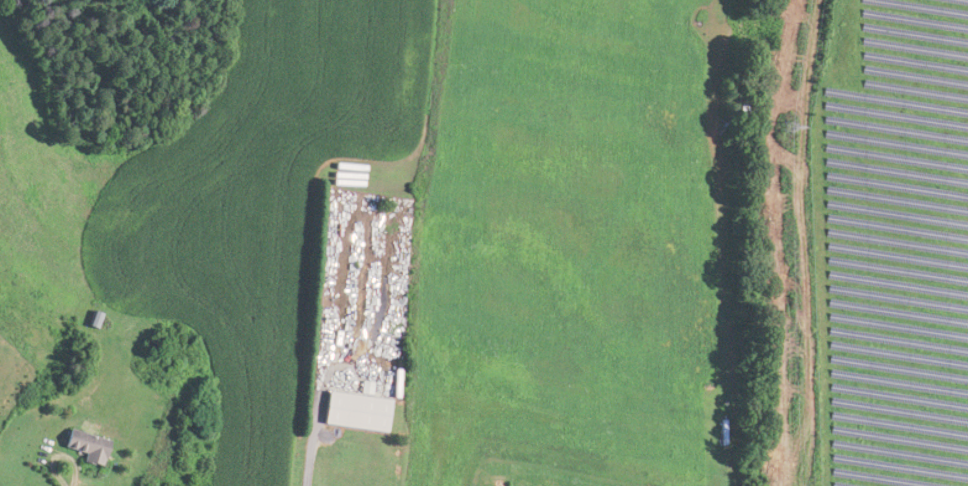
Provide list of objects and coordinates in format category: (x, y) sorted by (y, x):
building: (354, 410)
road: (305, 437)
building: (84, 445)

